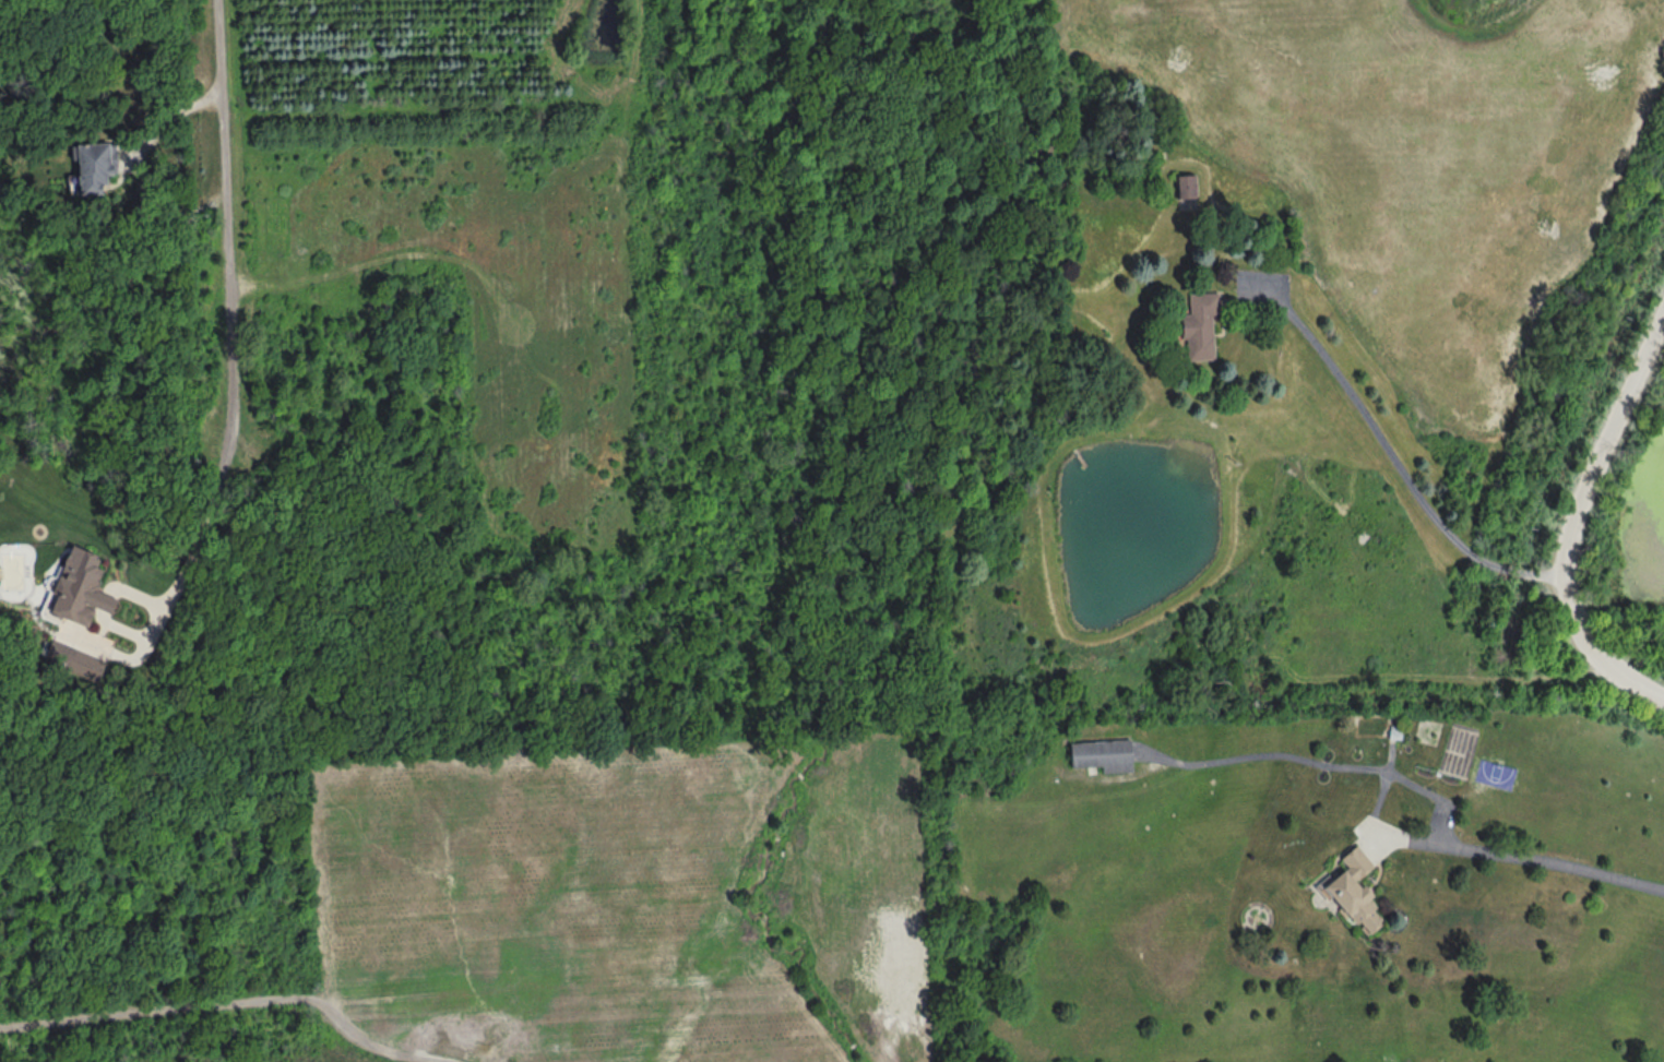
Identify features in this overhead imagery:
road: (171, 119)
crop: (1412, 153)
road: (130, 159)
building: (94, 167)
building: (1187, 189)
road: (163, 214)
road: (229, 242)
building: (1202, 327)
road: (1387, 449)
pier: (1079, 457)
road: (1576, 515)
building: (80, 590)
road: (135, 596)
road: (104, 605)
road: (163, 610)
road: (123, 630)
building: (73, 663)
building: (1394, 718)
building: (1393, 736)
building: (1104, 757)
road: (1419, 788)
road: (1381, 796)
road: (1402, 840)
building: (1353, 893)
road: (222, 1006)

